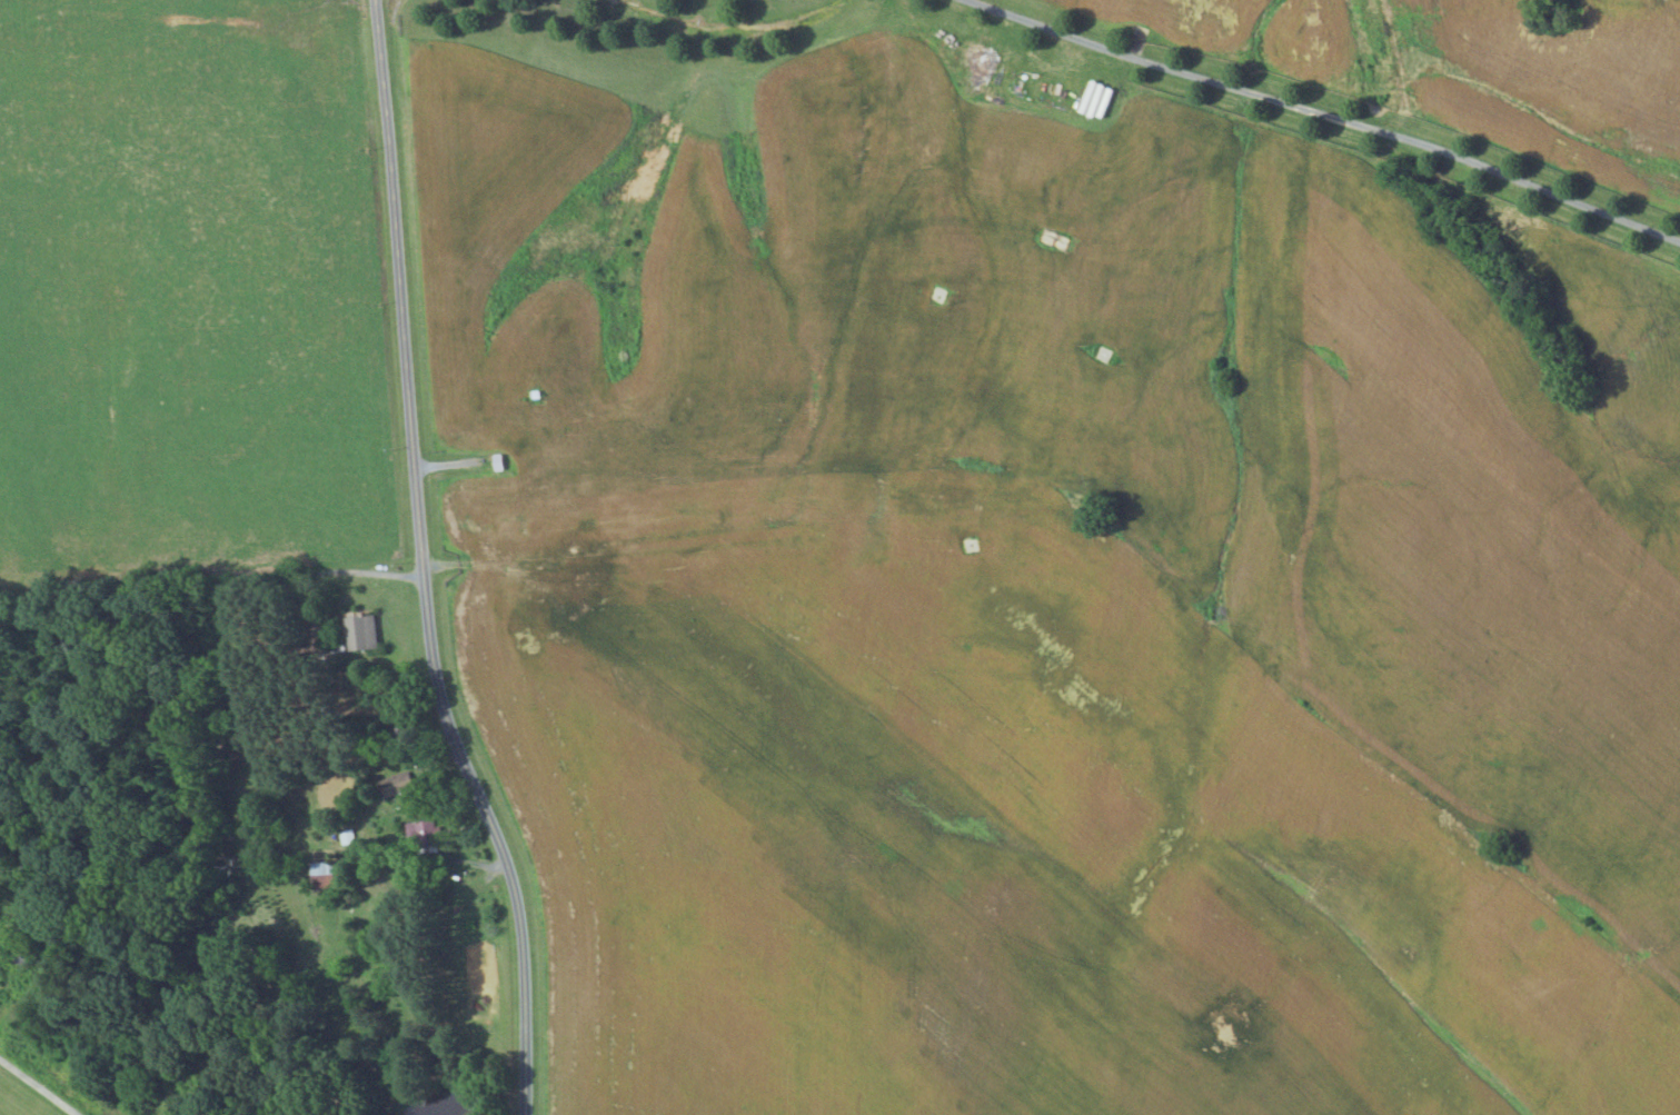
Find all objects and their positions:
road: (1323, 117)
road: (420, 564)
road: (362, 571)
building: (360, 631)
building: (394, 785)
building: (321, 875)
road: (37, 1087)

